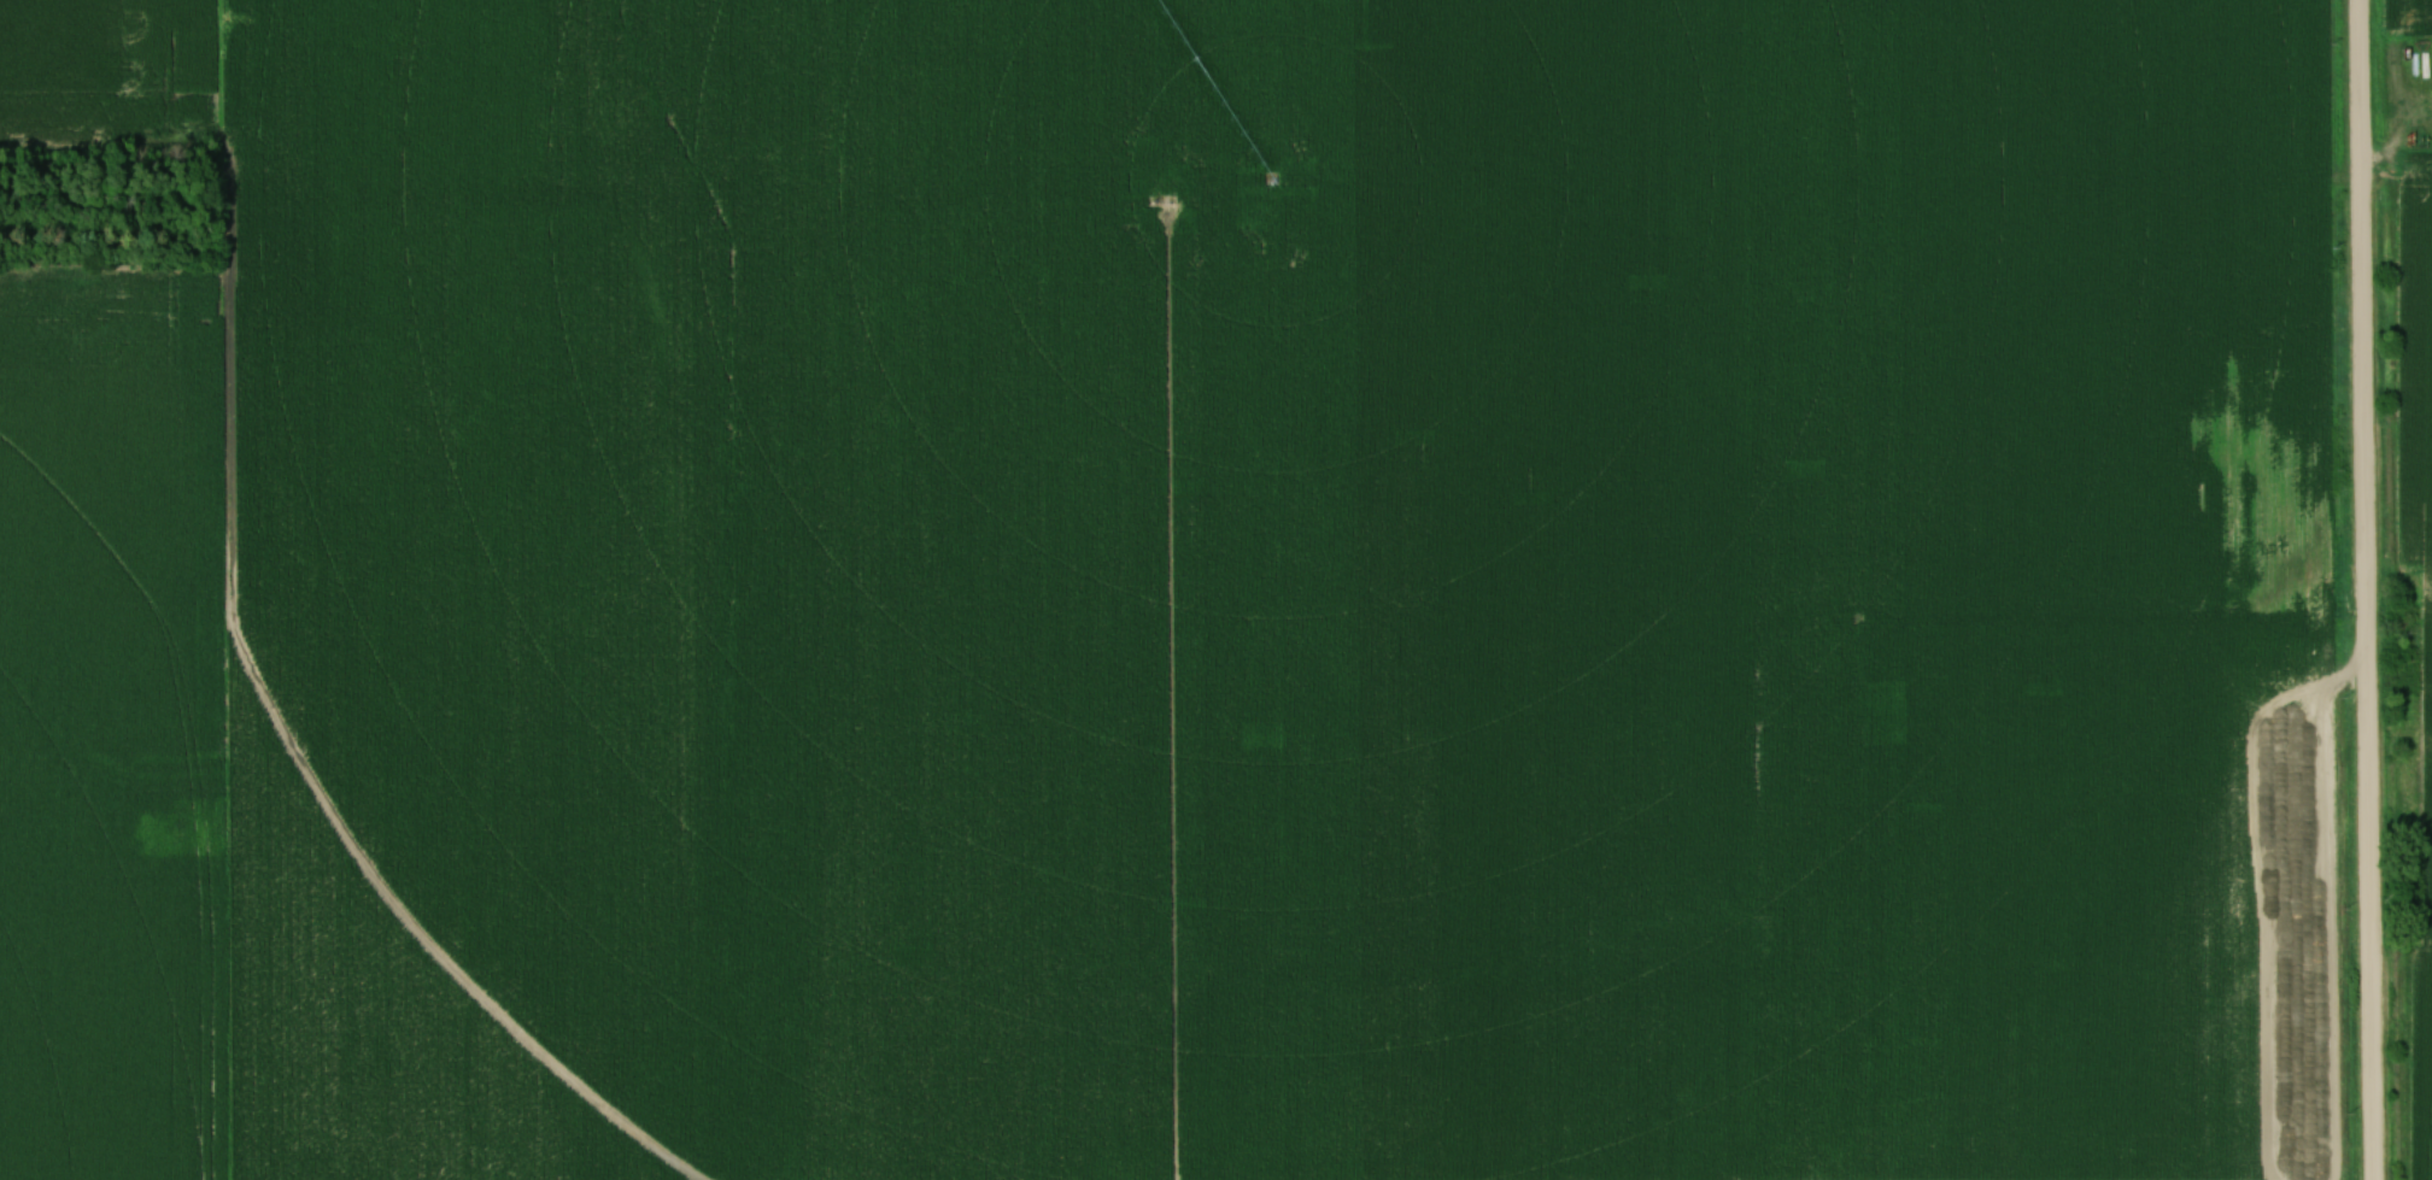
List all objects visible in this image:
road: (2368, 589)

